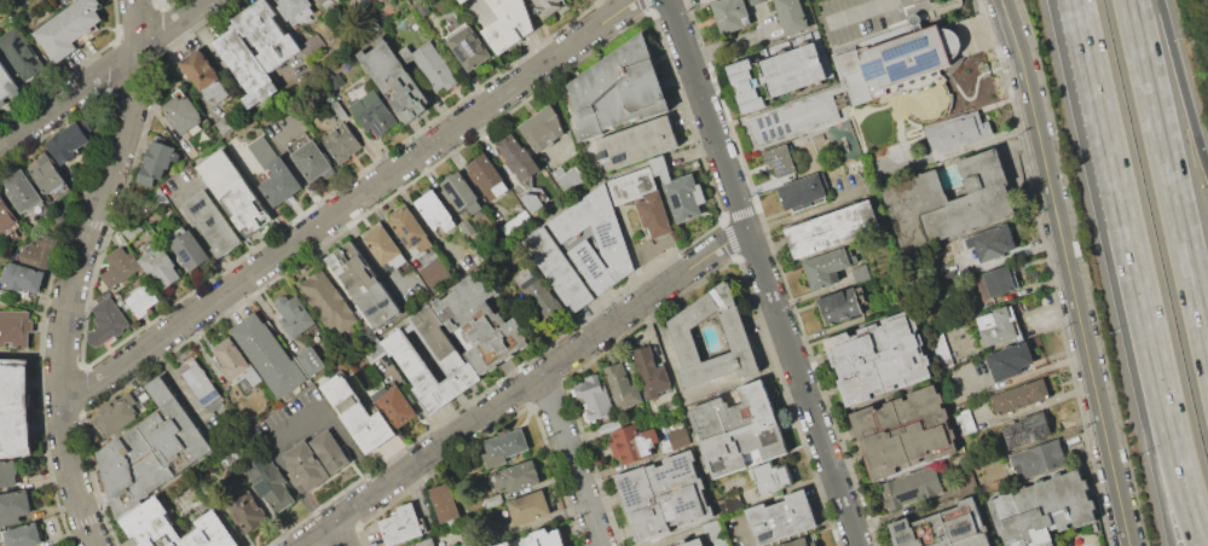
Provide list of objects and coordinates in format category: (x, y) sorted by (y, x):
building: (704, 0)
building: (322, 1)
building: (463, 1)
building: (548, 6)
building: (297, 10)
road: (862, 12)
building: (730, 14)
building: (792, 16)
parking lot: (856, 17)
building: (509, 24)
building: (69, 28)
building: (267, 35)
road: (739, 43)
building: (469, 47)
road: (261, 56)
building: (21, 57)
building: (901, 63)
building: (430, 64)
building: (245, 68)
road: (100, 71)
building: (773, 75)
building: (204, 76)
building: (395, 80)
road: (1178, 83)
building: (7, 87)
building: (618, 89)
building: (949, 92)
road: (1100, 109)
building: (372, 111)
building: (183, 112)
building: (794, 118)
building: (543, 127)
building: (956, 132)
building: (342, 141)
building: (65, 144)
building: (637, 144)
building: (158, 157)
building: (519, 158)
building: (779, 159)
building: (312, 161)
road: (290, 162)
road: (1171, 165)
building: (273, 172)
building: (489, 175)
building: (47, 176)
building: (566, 178)
building: (634, 184)
building: (232, 191)
building: (681, 191)
building: (463, 192)
building: (804, 192)
building: (23, 193)
building: (533, 198)
building: (947, 202)
road: (348, 203)
road: (811, 209)
building: (437, 211)
building: (6, 213)
building: (654, 214)
building: (515, 222)
building: (212, 223)
road: (424, 223)
road: (191, 226)
building: (409, 228)
building: (832, 228)
building: (595, 239)
building: (994, 244)
building: (383, 245)
building: (44, 248)
building: (187, 249)
road: (374, 262)
building: (161, 265)
building: (828, 266)
building: (119, 268)
road: (75, 269)
building: (559, 269)
road: (765, 272)
road: (1071, 272)
building: (438, 273)
building: (22, 277)
building: (998, 280)
building: (363, 285)
building: (141, 300)
building: (543, 301)
building: (328, 302)
building: (842, 307)
building: (294, 315)
building: (108, 321)
building: (481, 323)
building: (1000, 325)
building: (15, 329)
building: (684, 339)
road: (30, 352)
building: (270, 356)
building: (879, 358)
building: (408, 359)
building: (311, 360)
building: (1008, 360)
building: (235, 366)
building: (651, 372)
road: (674, 372)
road: (1029, 372)
building: (200, 382)
road: (1149, 382)
road: (1163, 382)
road: (525, 385)
building: (622, 387)
building: (1021, 395)
building: (594, 399)
building: (395, 406)
building: (15, 411)
building: (125, 411)
building: (359, 414)
building: (964, 420)
road: (334, 422)
building: (741, 430)
building: (1022, 430)
building: (906, 431)
building: (677, 437)
building: (632, 443)
building: (502, 448)
building: (154, 449)
building: (330, 451)
building: (1036, 458)
road: (573, 459)
building: (305, 466)
building: (7, 474)
building: (519, 476)
building: (770, 477)
building: (271, 483)
building: (912, 488)
building: (665, 496)
building: (445, 503)
building: (15, 505)
building: (528, 507)
building: (248, 511)
building: (1040, 511)
building: (780, 517)
building: (148, 524)
building: (401, 525)
building: (944, 527)
road: (342, 533)
building: (23, 535)
building: (537, 539)
building: (802, 541)
building: (424, 542)
building: (694, 542)

